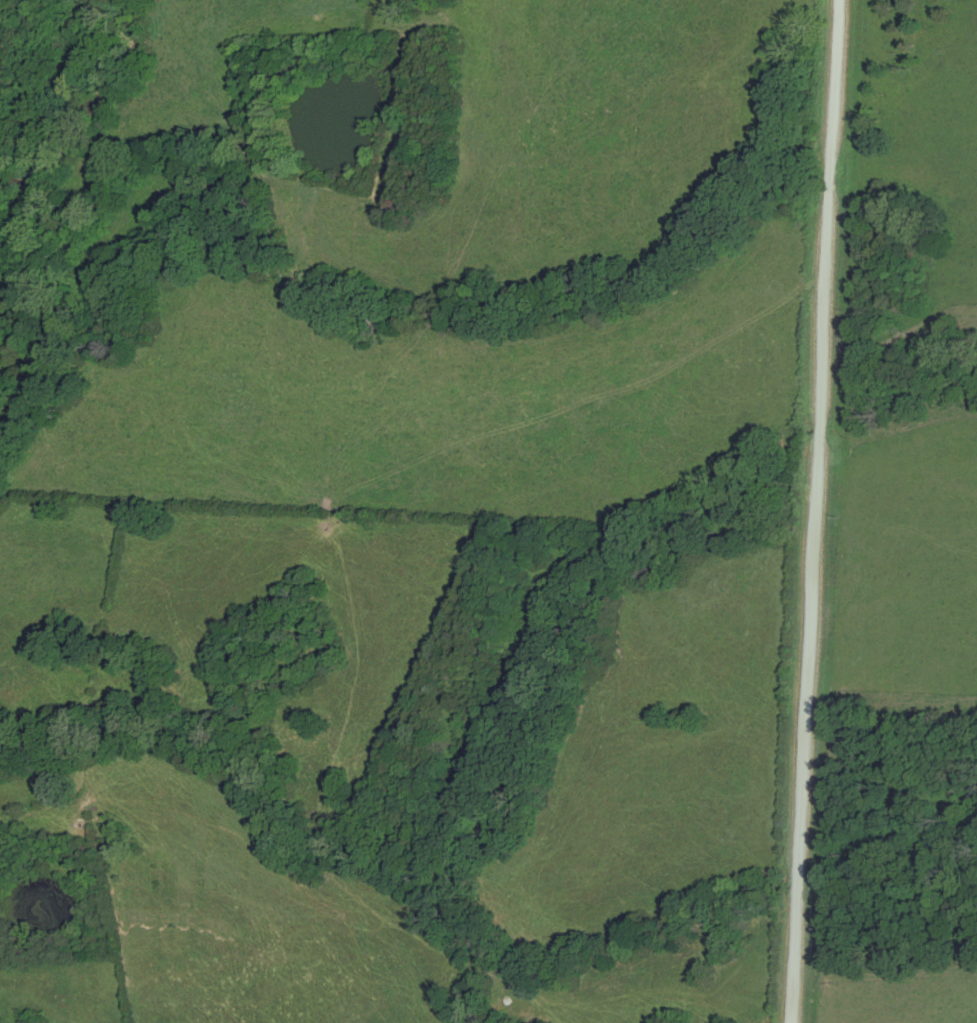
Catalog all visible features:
road: (817, 511)

